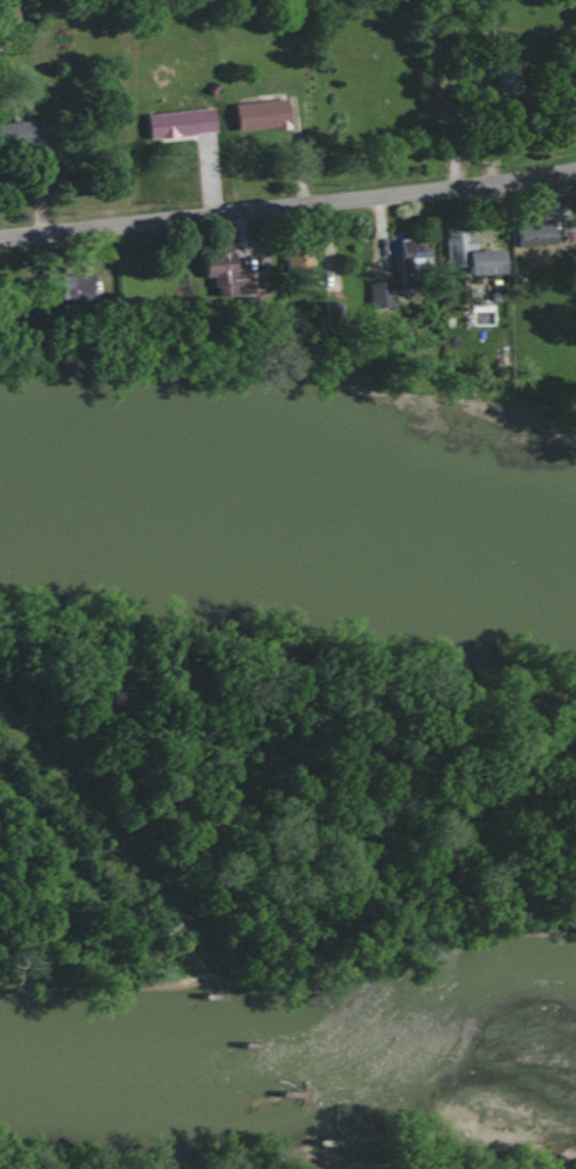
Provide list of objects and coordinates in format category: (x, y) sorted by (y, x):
building: (504, 78)
building: (521, 81)
building: (275, 116)
building: (196, 126)
building: (41, 138)
road: (287, 201)
building: (548, 232)
building: (405, 251)
building: (266, 253)
building: (485, 257)
building: (424, 263)
building: (224, 274)
building: (65, 287)
building: (380, 295)
building: (392, 297)
building: (497, 313)
building: (346, 315)
river: (287, 506)
river: (287, 1095)

